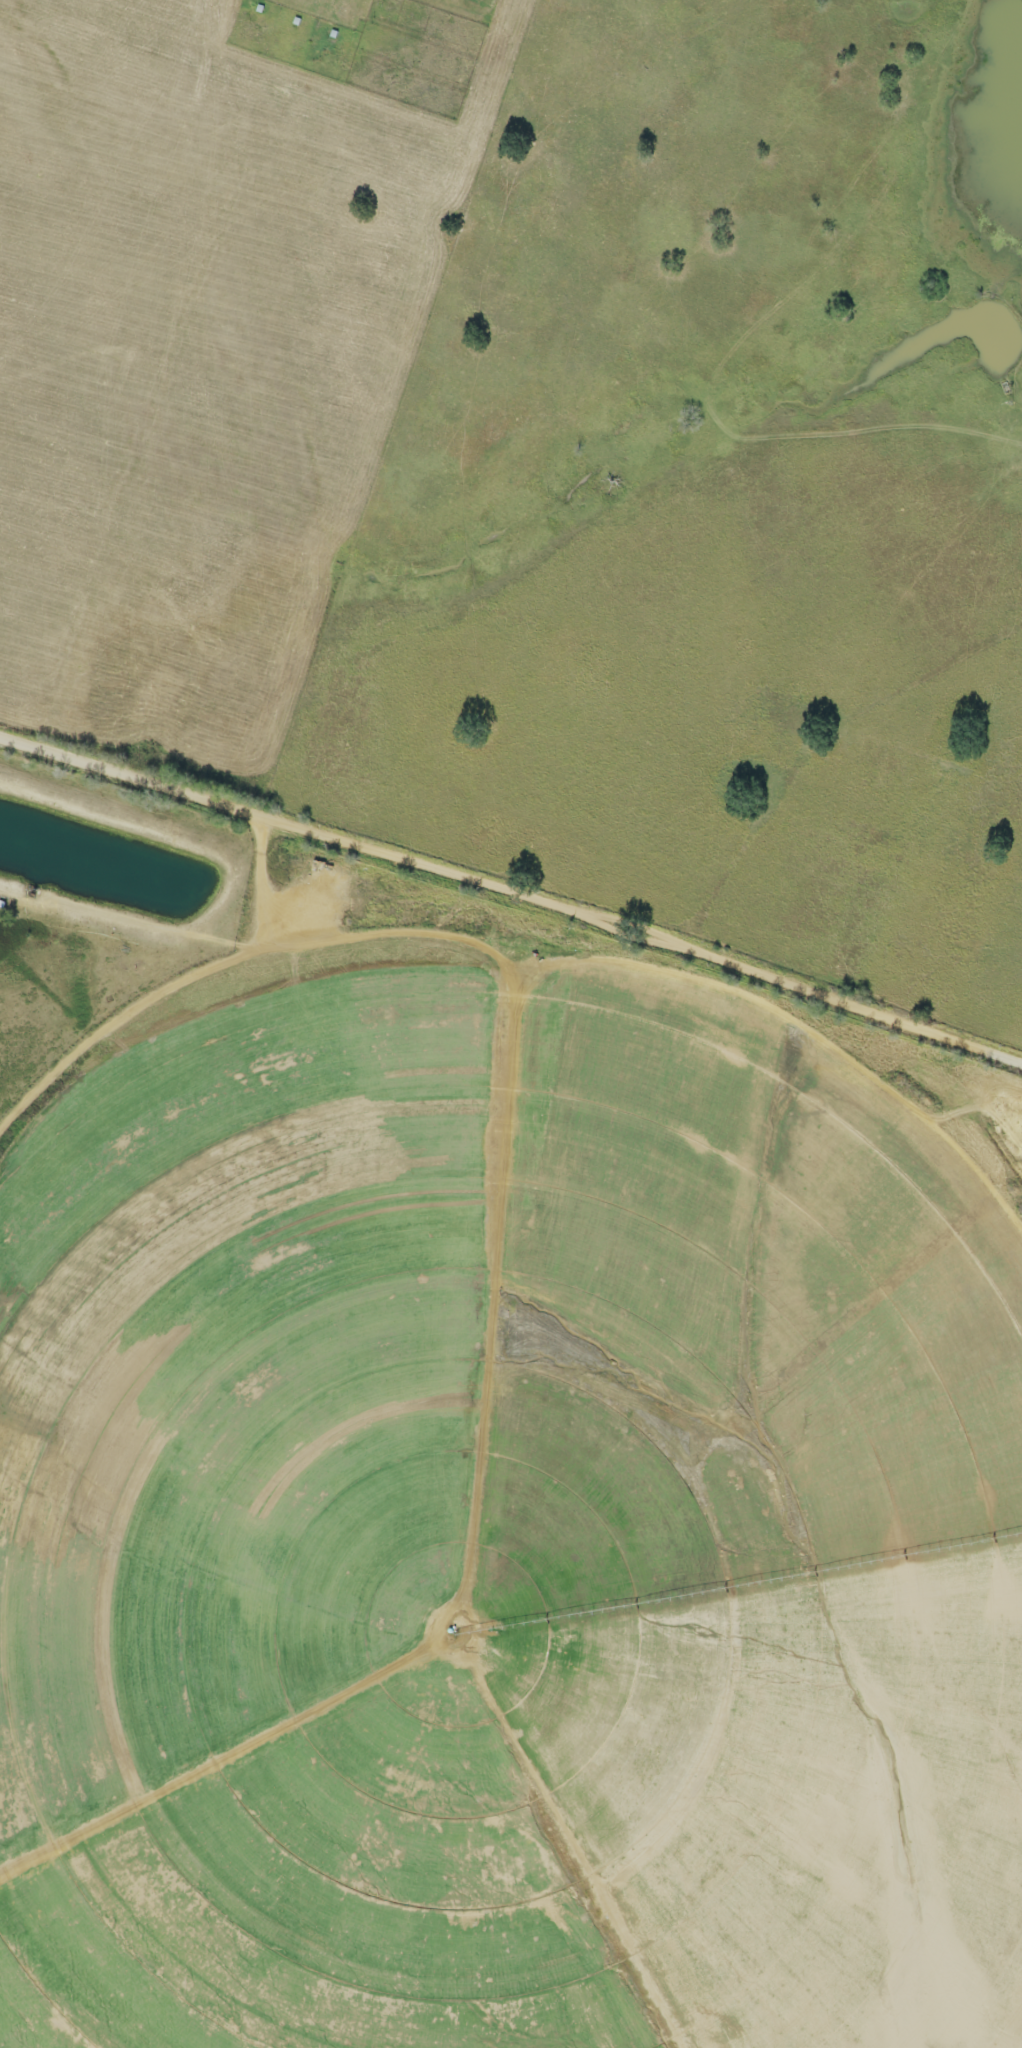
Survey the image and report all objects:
road: (513, 893)

